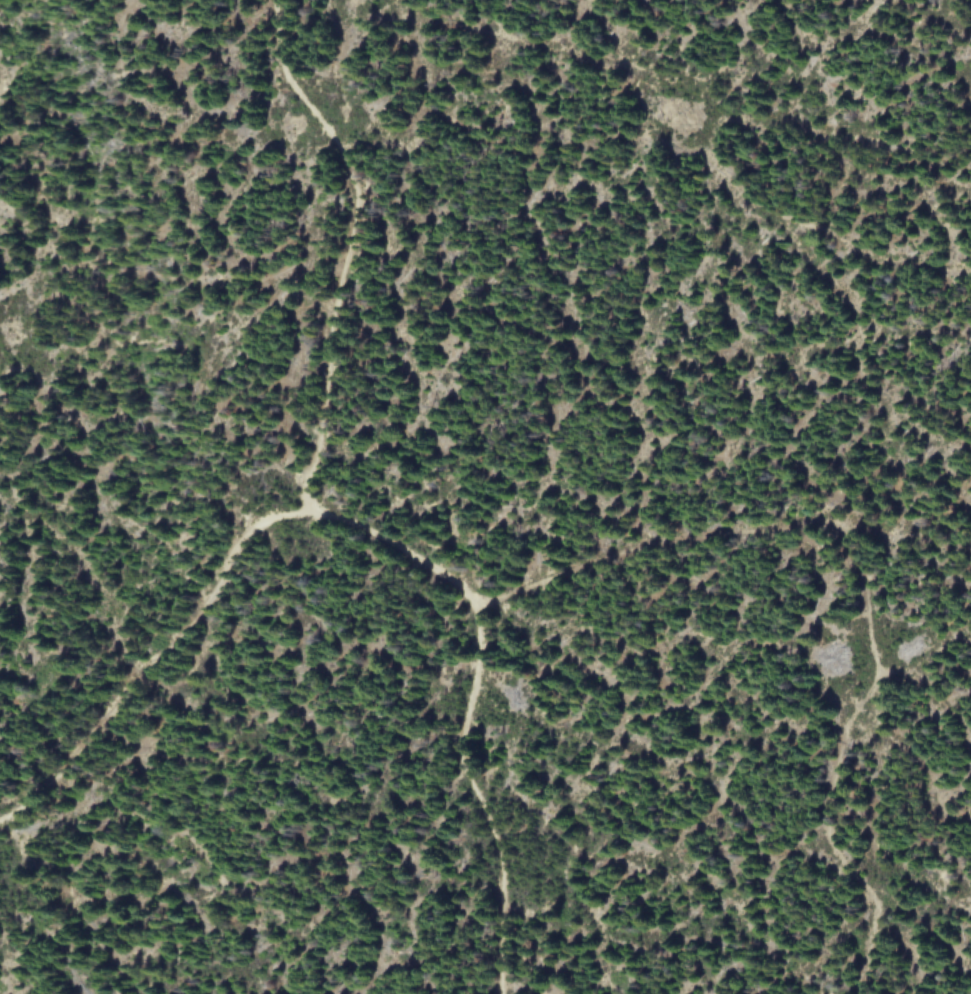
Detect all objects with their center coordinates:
road: (349, 247)
road: (280, 519)
road: (477, 798)

